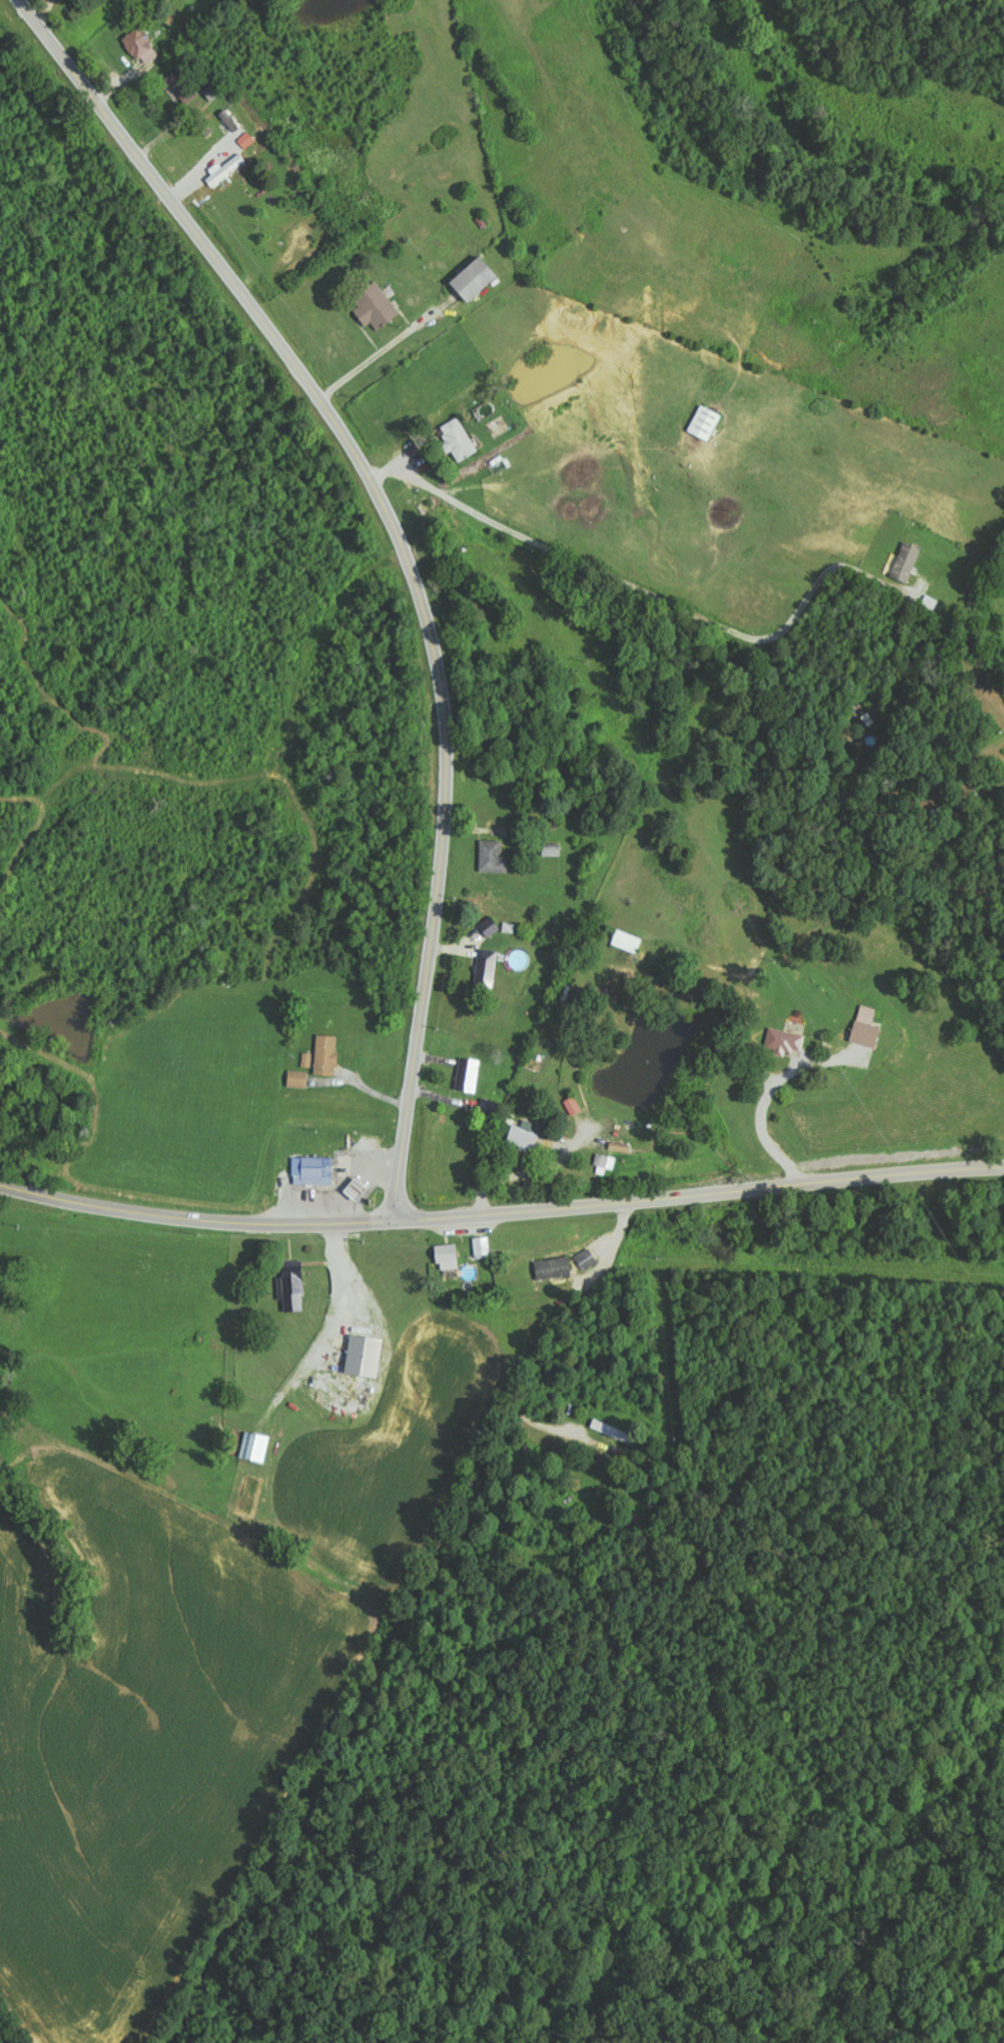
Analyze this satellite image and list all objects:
building: (141, 47)
building: (176, 84)
building: (230, 121)
building: (247, 141)
building: (226, 170)
building: (475, 278)
building: (376, 306)
building: (705, 422)
building: (458, 439)
road: (404, 553)
building: (907, 562)
building: (552, 851)
building: (493, 857)
building: (490, 927)
building: (627, 941)
building: (488, 964)
building: (867, 1027)
building: (327, 1055)
building: (307, 1060)
building: (468, 1075)
building: (0, 1079)
building: (298, 1079)
road: (98, 1098)
building: (573, 1106)
building: (525, 1136)
building: (605, 1163)
building: (313, 1171)
road: (698, 1194)
road: (195, 1218)
building: (482, 1247)
building: (448, 1257)
building: (586, 1259)
building: (554, 1268)
building: (294, 1289)
building: (365, 1357)
building: (611, 1431)
road: (390, 1623)

